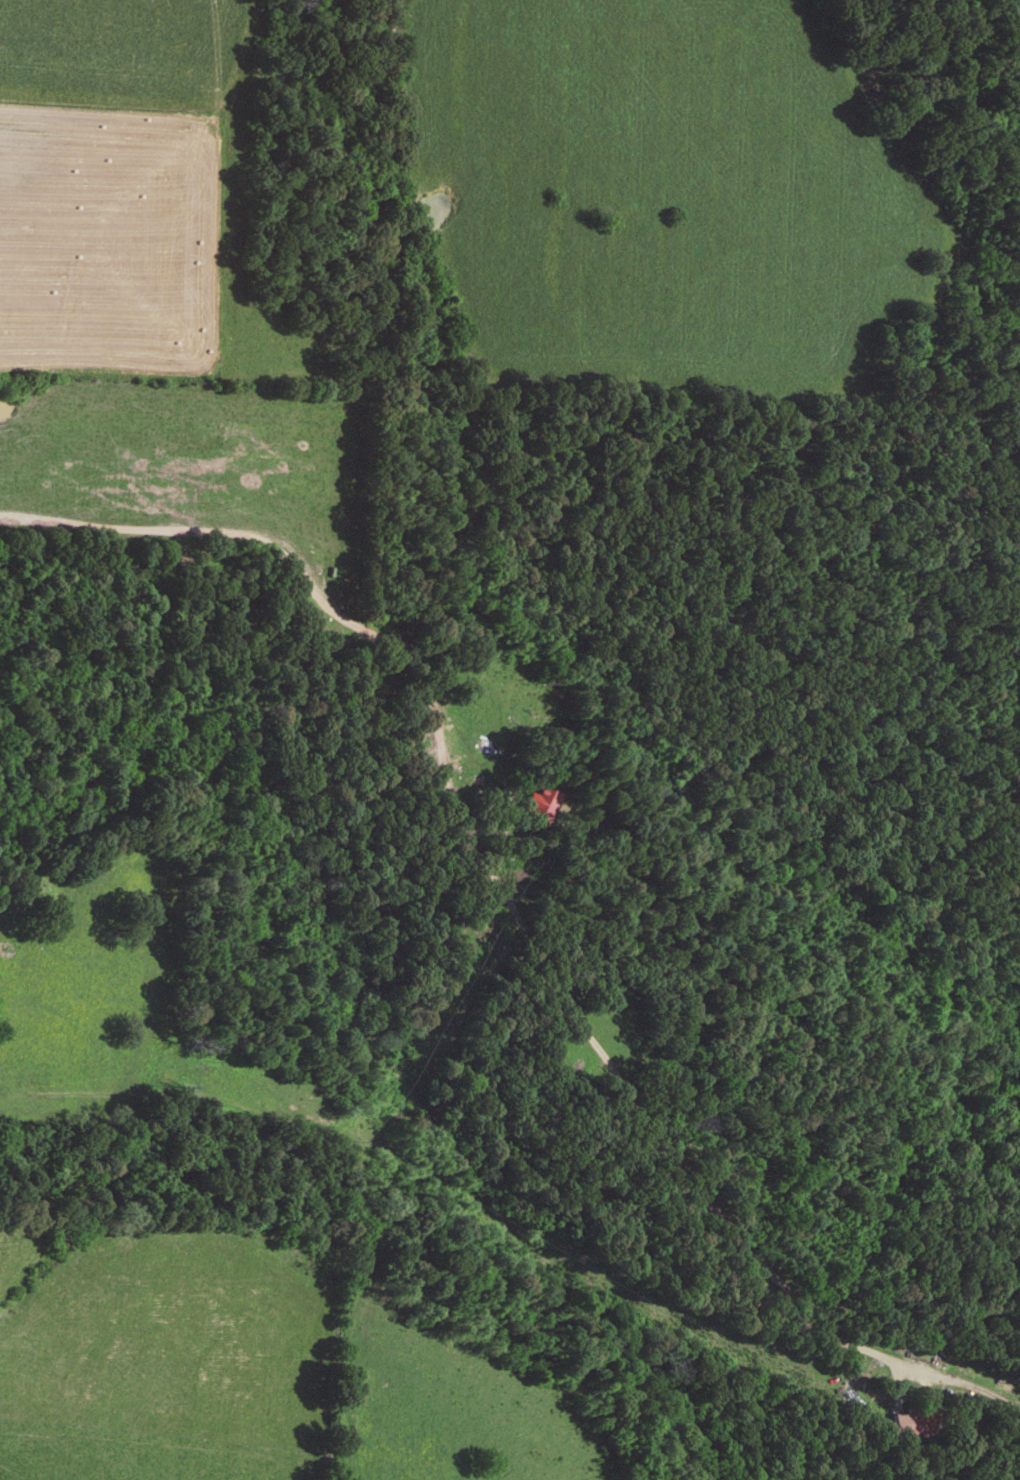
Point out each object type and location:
building: (902, 1425)

